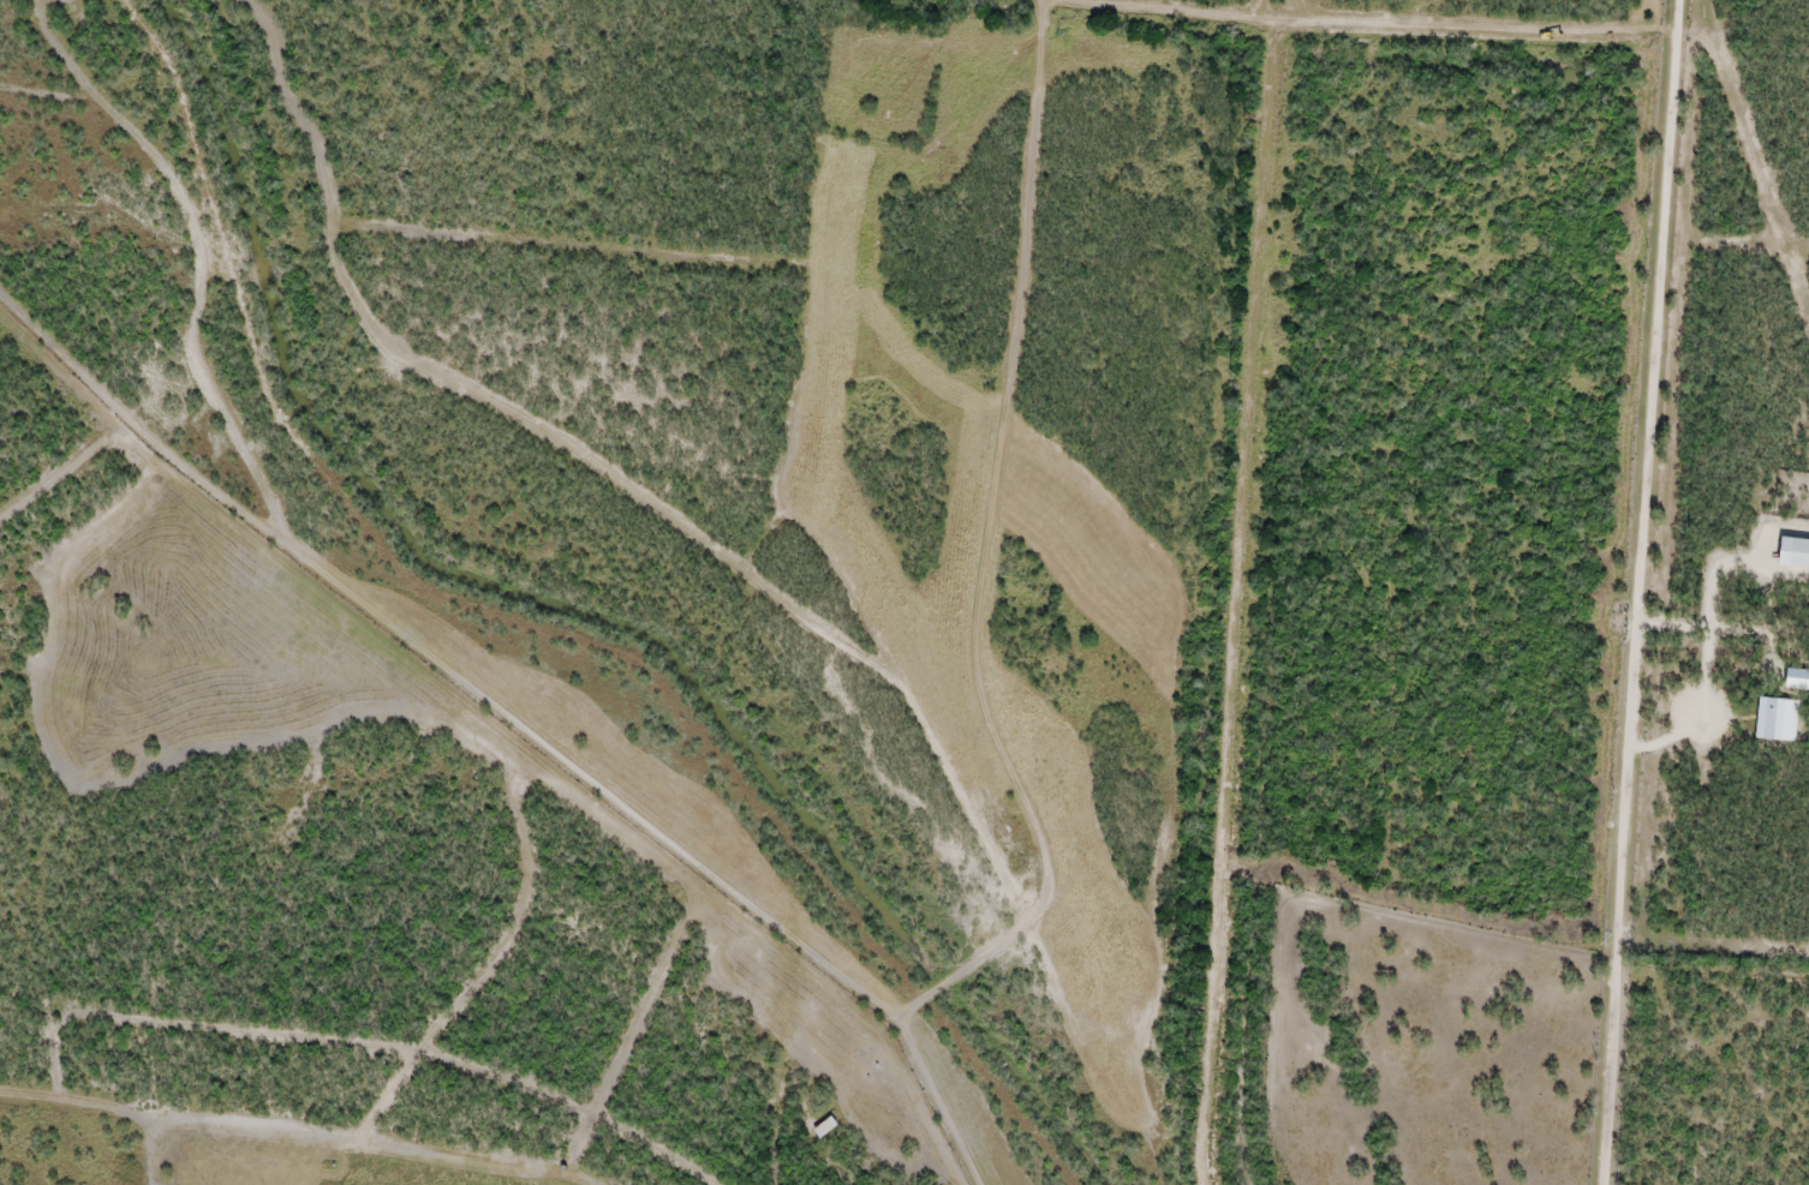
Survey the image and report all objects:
road: (1658, 592)
building: (1796, 677)
building: (1774, 718)
building: (824, 1126)

